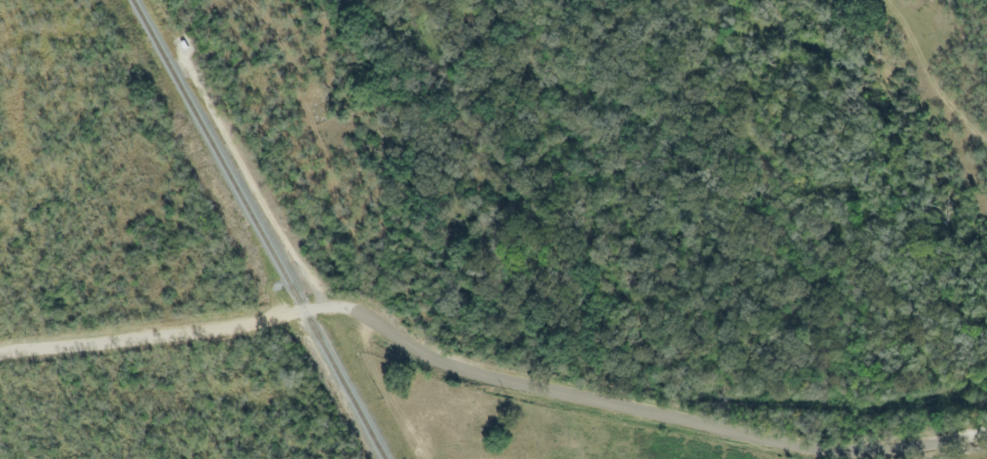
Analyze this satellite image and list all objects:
river: (902, 158)
railway: (254, 229)
road: (480, 371)
road: (979, 433)

